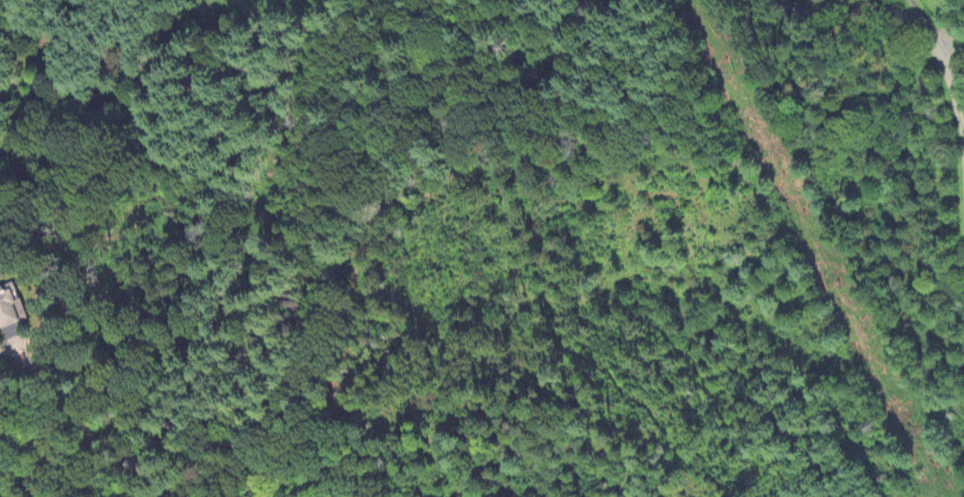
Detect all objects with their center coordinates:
road: (873, 5)
road: (803, 13)
road: (918, 15)
road: (288, 21)
road: (49, 89)
road: (952, 91)
building: (10, 306)

